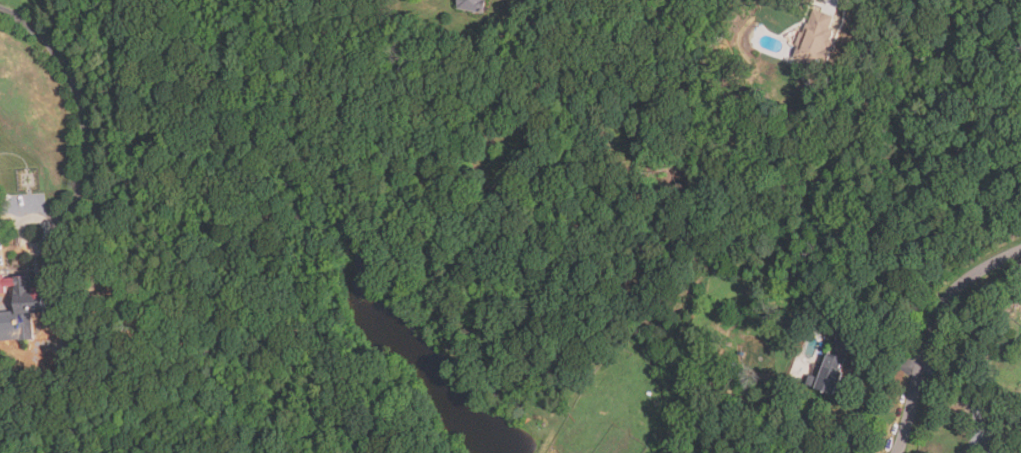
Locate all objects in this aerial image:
building: (472, 5)
building: (815, 36)
road: (944, 47)
road: (81, 105)
road: (28, 212)
building: (32, 306)
road: (932, 333)
road: (879, 352)
building: (830, 374)
road: (967, 399)

